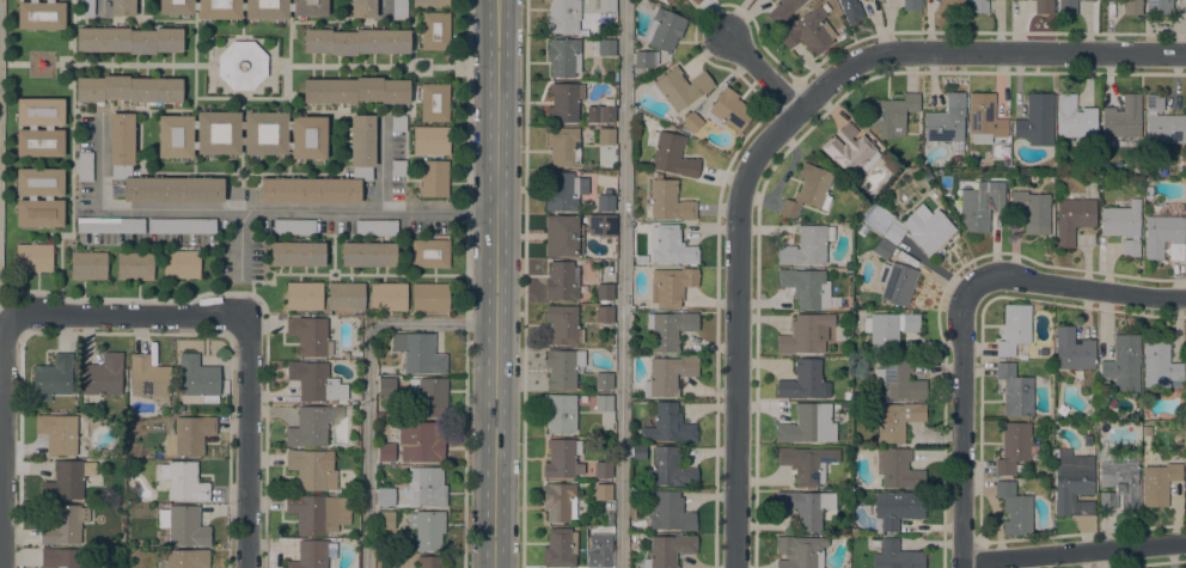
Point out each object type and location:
building: (667, 0)
building: (692, 0)
building: (1094, 0)
building: (697, 1)
building: (430, 2)
building: (606, 5)
building: (911, 5)
building: (952, 6)
building: (978, 6)
building: (1043, 6)
building: (1066, 6)
building: (1132, 6)
building: (1159, 6)
building: (86, 7)
road: (102, 7)
building: (122, 7)
building: (243, 8)
building: (362, 8)
building: (399, 8)
building: (850, 10)
building: (782, 11)
building: (39, 14)
building: (562, 16)
building: (664, 29)
building: (434, 30)
building: (808, 31)
building: (128, 39)
building: (355, 41)
building: (606, 47)
road: (930, 50)
building: (563, 56)
building: (646, 59)
building: (242, 65)
park: (0, 68)
building: (595, 72)
building: (679, 87)
building: (128, 88)
building: (355, 90)
building: (434, 102)
building: (563, 102)
building: (729, 109)
building: (605, 114)
building: (889, 114)
building: (984, 117)
building: (1075, 117)
building: (1121, 117)
building: (1037, 118)
building: (946, 120)
building: (690, 121)
building: (1162, 122)
building: (398, 123)
building: (48, 127)
building: (242, 134)
building: (605, 136)
building: (430, 140)
building: (562, 146)
building: (850, 151)
building: (671, 154)
building: (121, 158)
building: (361, 159)
road: (379, 163)
building: (887, 163)
building: (85, 166)
building: (397, 167)
building: (434, 178)
building: (807, 190)
building: (562, 193)
building: (47, 197)
building: (668, 201)
building: (605, 202)
building: (980, 203)
road: (253, 209)
building: (1032, 210)
building: (1072, 219)
building: (880, 220)
building: (601, 224)
building: (110, 225)
building: (1123, 225)
building: (182, 226)
building: (293, 226)
building: (375, 227)
building: (927, 227)
building: (862, 230)
building: (893, 232)
building: (561, 236)
building: (1163, 237)
road: (238, 245)
building: (671, 245)
building: (806, 245)
building: (882, 248)
building: (429, 252)
building: (296, 254)
building: (367, 254)
building: (33, 257)
building: (603, 262)
building: (179, 263)
building: (87, 265)
building: (135, 265)
building: (561, 280)
building: (897, 282)
road: (469, 283)
road: (496, 283)
road: (521, 283)
road: (620, 283)
building: (671, 285)
building: (806, 287)
road: (1077, 287)
building: (604, 292)
building: (304, 295)
building: (346, 295)
building: (387, 295)
building: (430, 297)
building: (604, 313)
road: (126, 314)
building: (562, 324)
road: (6, 328)
road: (735, 328)
building: (668, 329)
building: (888, 329)
building: (1014, 329)
building: (805, 334)
building: (310, 336)
building: (1072, 349)
building: (418, 352)
building: (1022, 355)
building: (1185, 356)
building: (1159, 362)
building: (1123, 364)
building: (562, 367)
building: (103, 374)
building: (667, 374)
building: (51, 378)
building: (148, 378)
building: (197, 378)
road: (363, 378)
building: (603, 380)
building: (803, 380)
building: (898, 380)
building: (314, 381)
building: (386, 386)
building: (1015, 390)
building: (429, 395)
building: (582, 398)
building: (603, 402)
building: (1062, 409)
building: (560, 413)
building: (379, 414)
building: (895, 420)
road: (961, 423)
building: (668, 425)
building: (807, 425)
building: (307, 428)
building: (62, 433)
building: (189, 435)
building: (1086, 439)
road: (246, 440)
building: (421, 441)
building: (1013, 446)
building: (386, 452)
building: (638, 452)
building: (562, 458)
building: (807, 463)
building: (670, 468)
building: (897, 468)
building: (312, 469)
building: (603, 469)
building: (1185, 471)
building: (67, 480)
building: (183, 481)
building: (1072, 483)
building: (1159, 483)
building: (1118, 484)
building: (426, 487)
building: (603, 491)
building: (385, 496)
building: (558, 501)
building: (632, 507)
building: (805, 507)
building: (898, 507)
building: (1014, 508)
building: (317, 512)
building: (670, 512)
building: (385, 519)
building: (63, 525)
building: (183, 525)
building: (427, 529)
building: (852, 530)
building: (560, 548)
building: (668, 550)
building: (800, 551)
road: (1072, 551)
building: (310, 555)
building: (895, 556)
building: (61, 557)
building: (187, 558)
building: (603, 558)
building: (430, 562)

